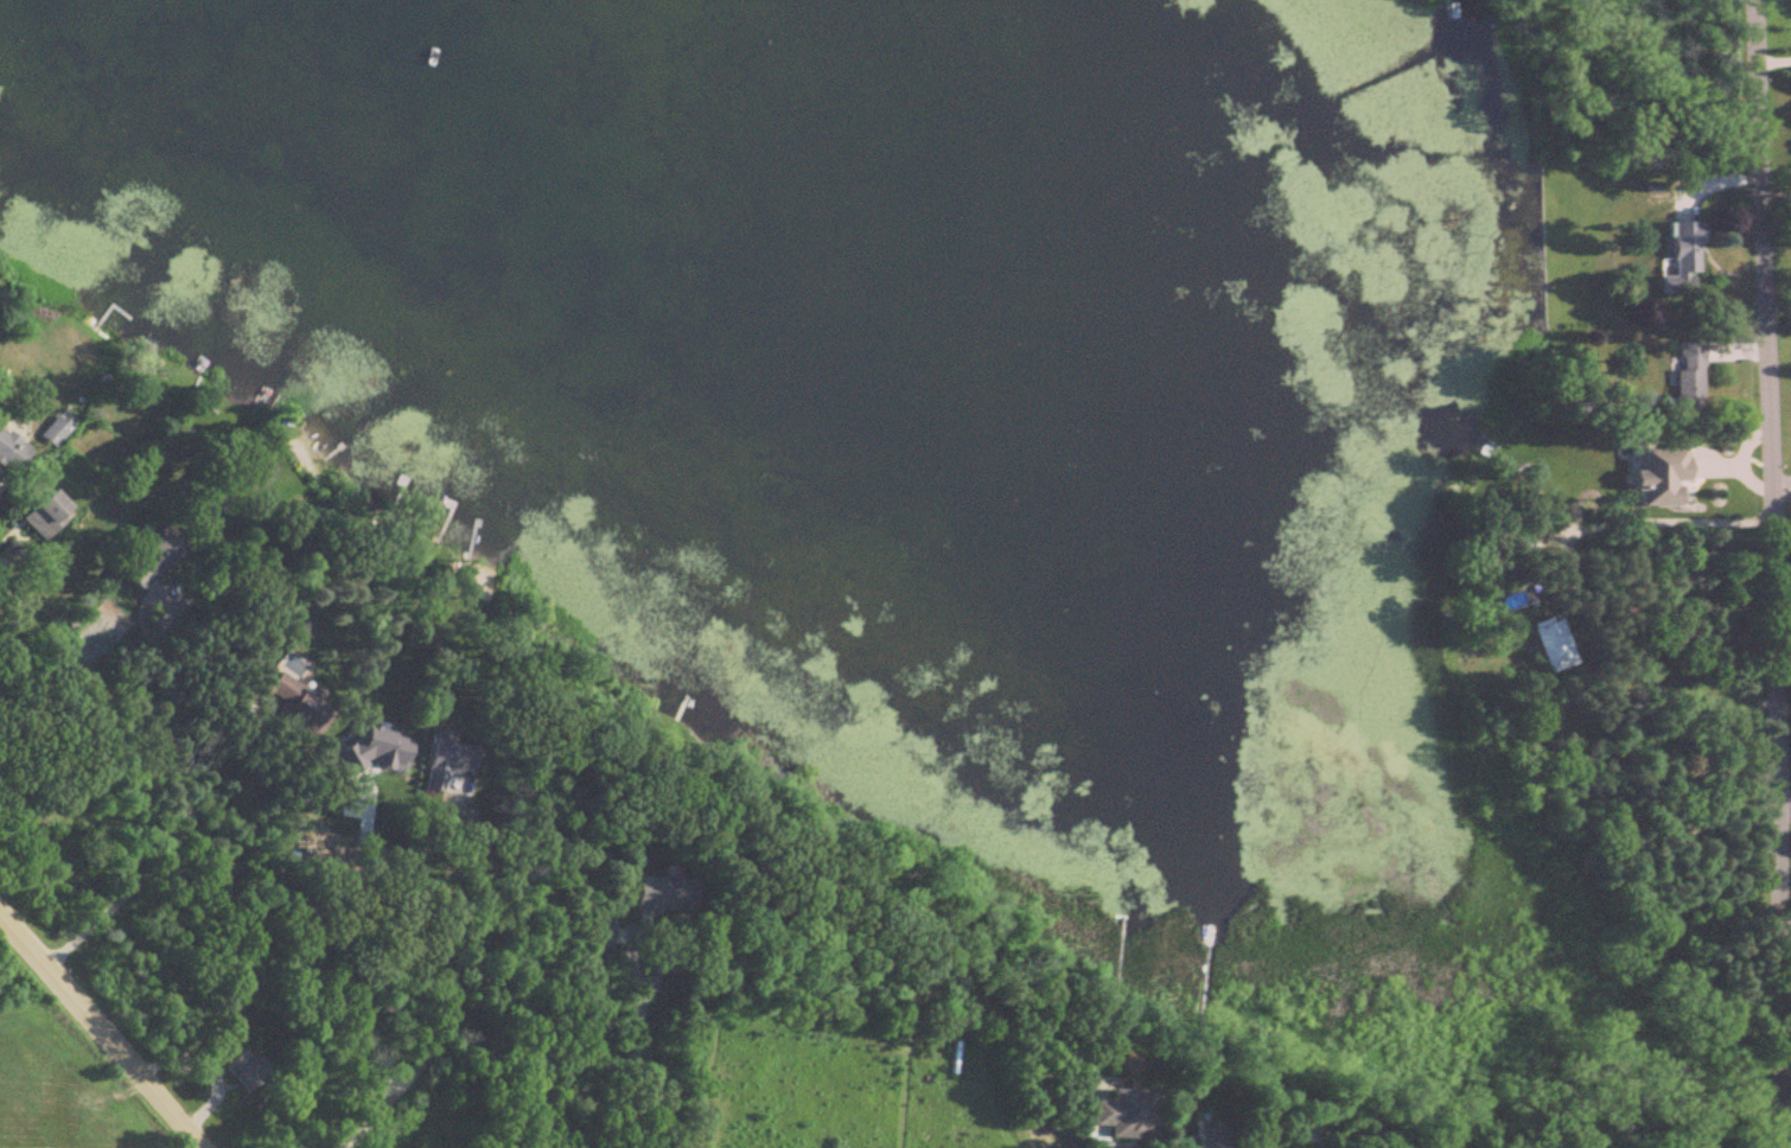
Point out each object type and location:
building: (1677, 260)
building: (1684, 376)
building: (60, 432)
building: (13, 452)
building: (1652, 474)
building: (51, 516)
road: (1659, 523)
building: (155, 561)
road: (1770, 574)
building: (1550, 645)
building: (299, 701)
road: (90, 717)
road: (457, 816)
road: (148, 869)
building: (668, 894)
road: (646, 935)
building: (599, 936)
road: (307, 945)
road: (444, 1033)
road: (100, 1037)
building: (219, 1048)
building: (249, 1072)
road: (646, 1079)
building: (1123, 1115)
building: (1197, 1140)

